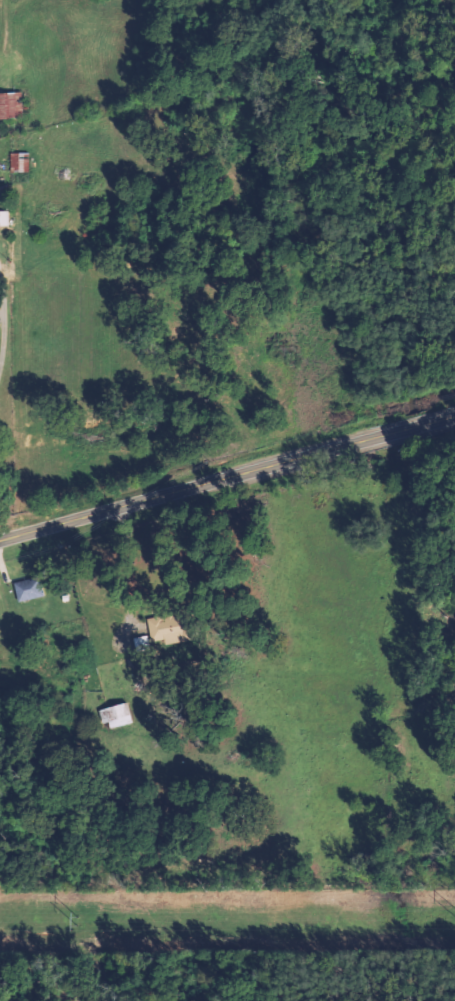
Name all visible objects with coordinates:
building: (11, 105)
building: (19, 162)
building: (3, 218)
road: (227, 479)
road: (140, 562)
building: (28, 589)
building: (171, 628)
building: (116, 716)

